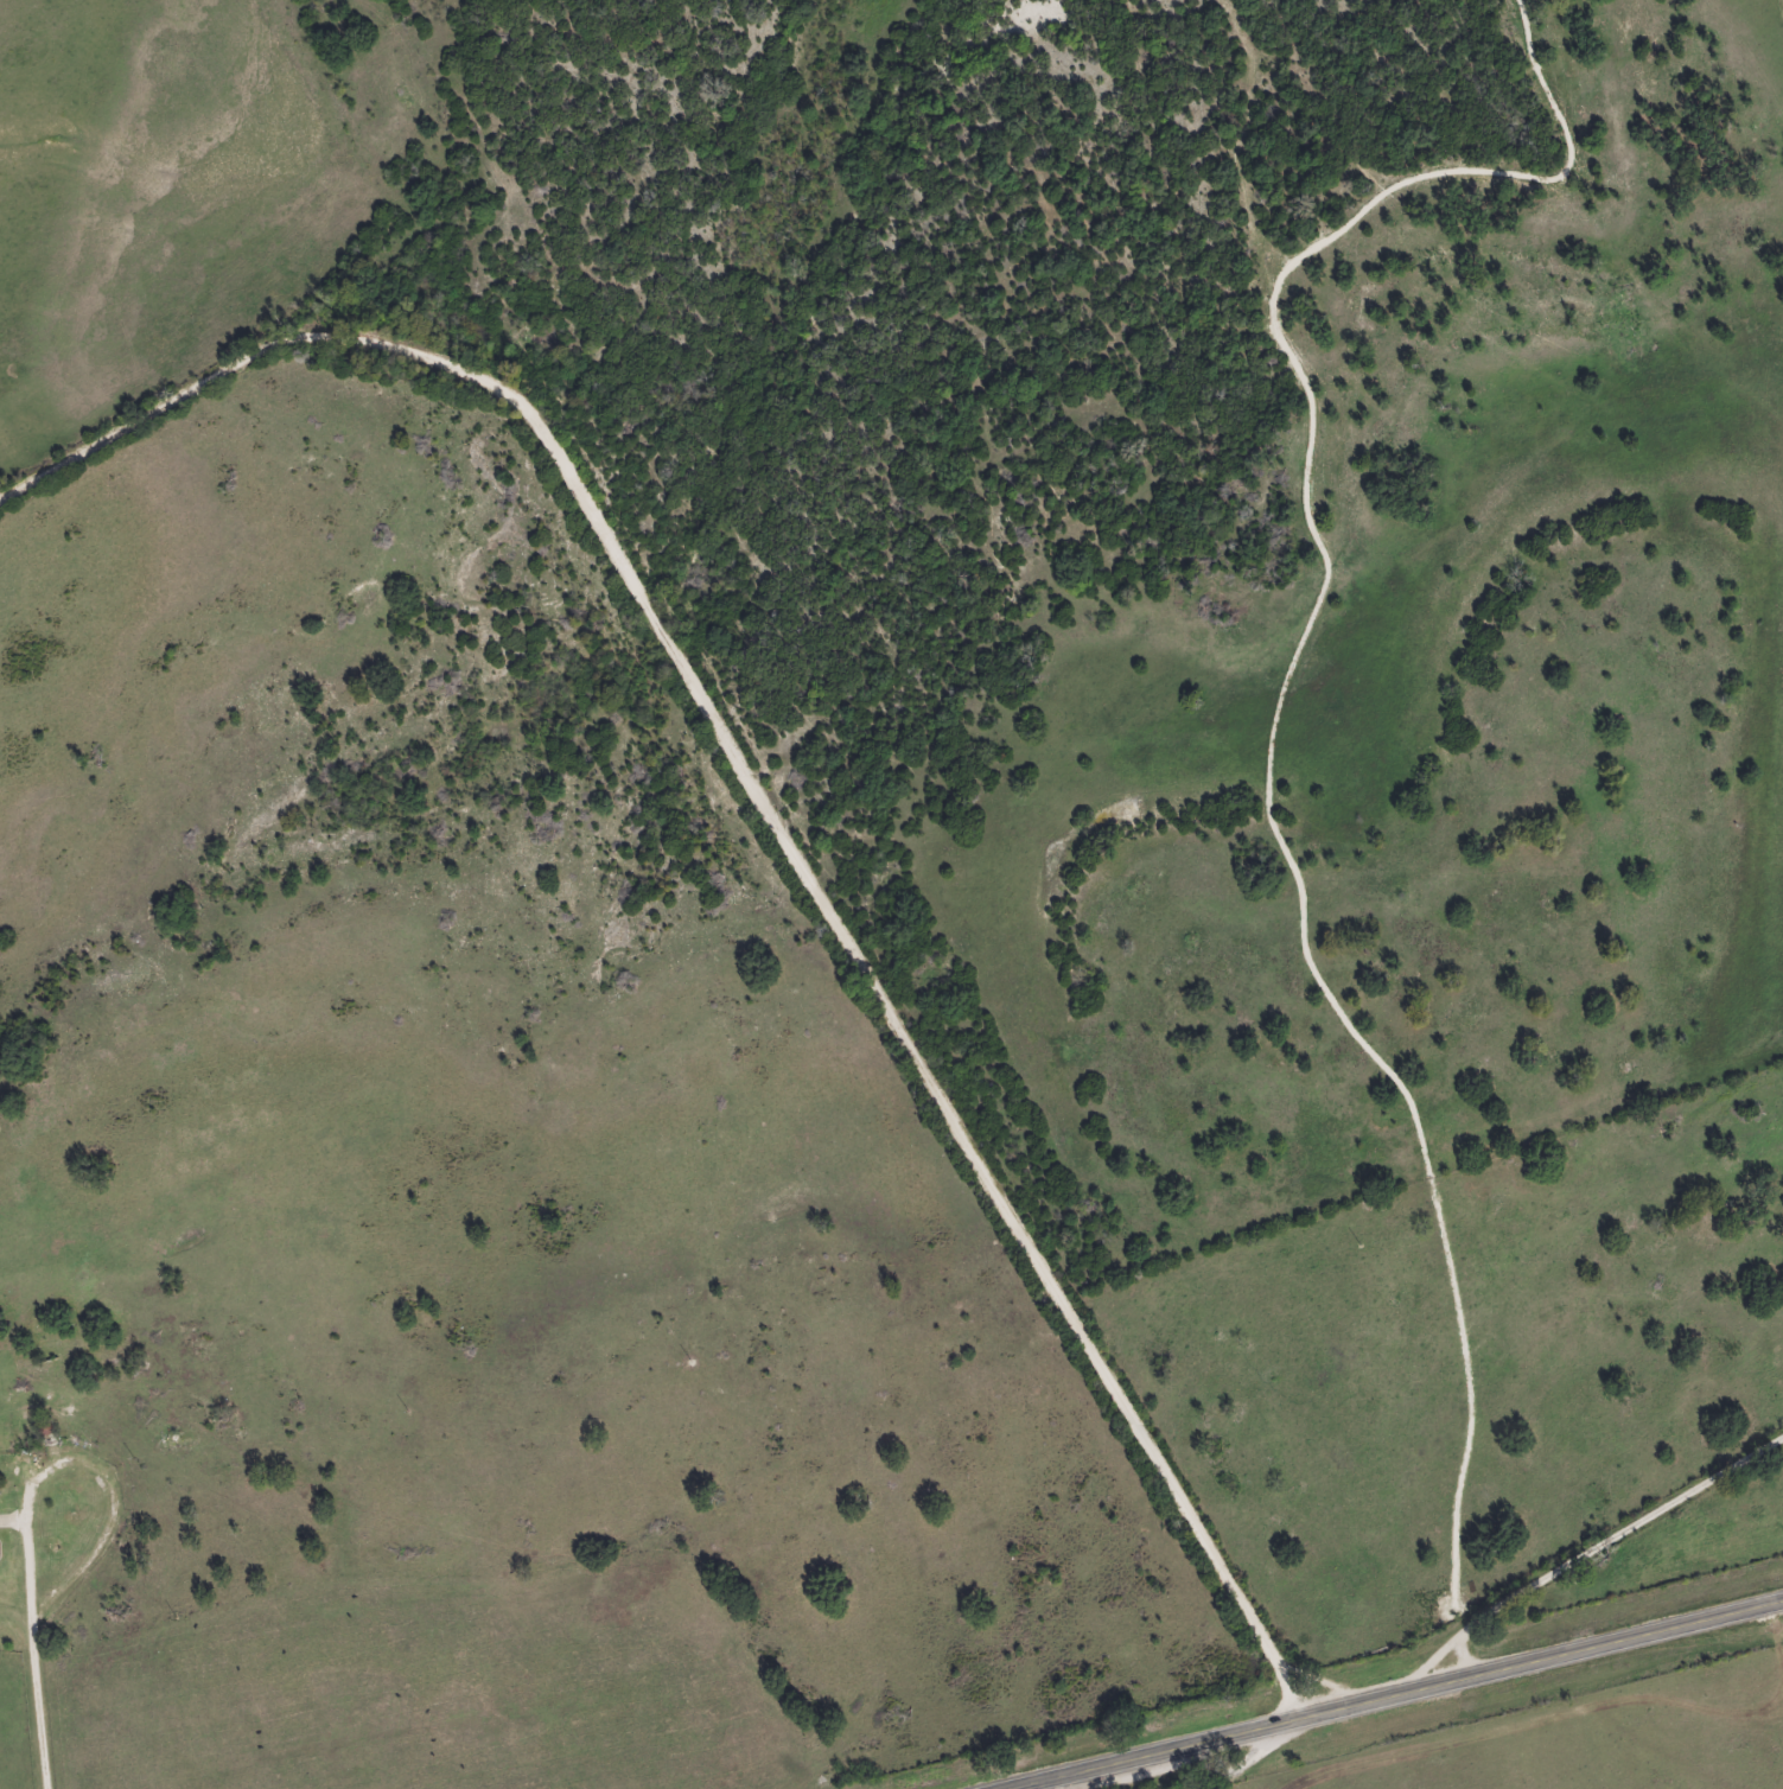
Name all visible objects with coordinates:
road: (1779, 20)
road: (764, 834)
building: (46, 1427)
road: (1584, 1551)
road: (28, 1638)
road: (1394, 1695)
road: (1217, 1757)

